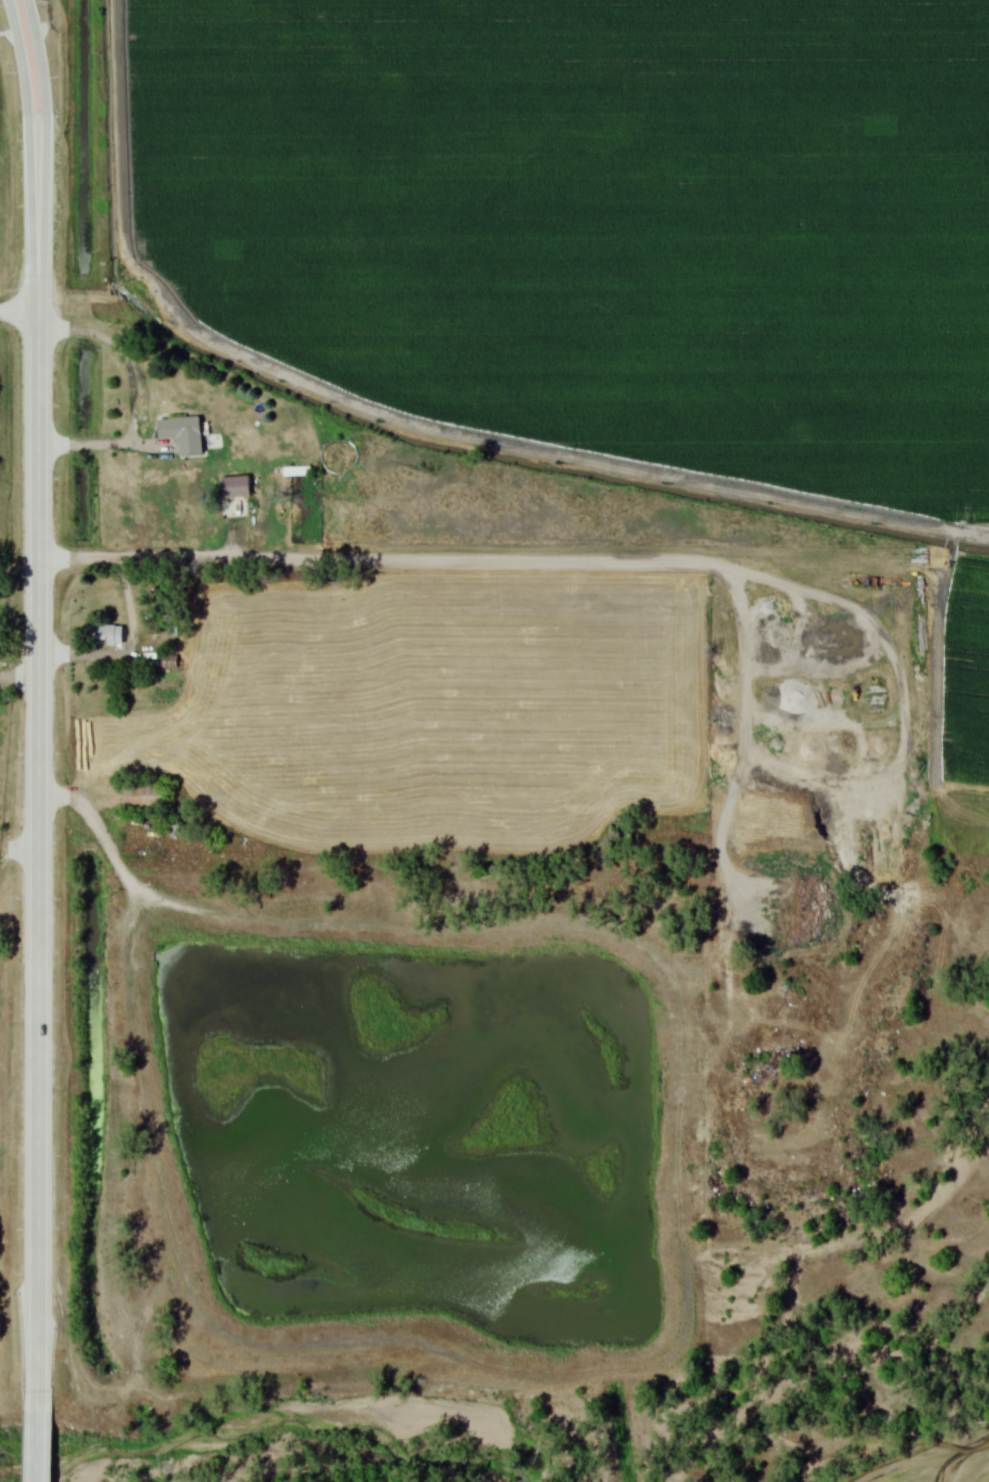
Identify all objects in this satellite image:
road: (22, 75)
road: (40, 75)
road: (19, 312)
building: (182, 434)
building: (289, 472)
building: (235, 487)
road: (543, 567)
building: (104, 635)
road: (36, 769)
building: (143, 795)
road: (36, 1435)

